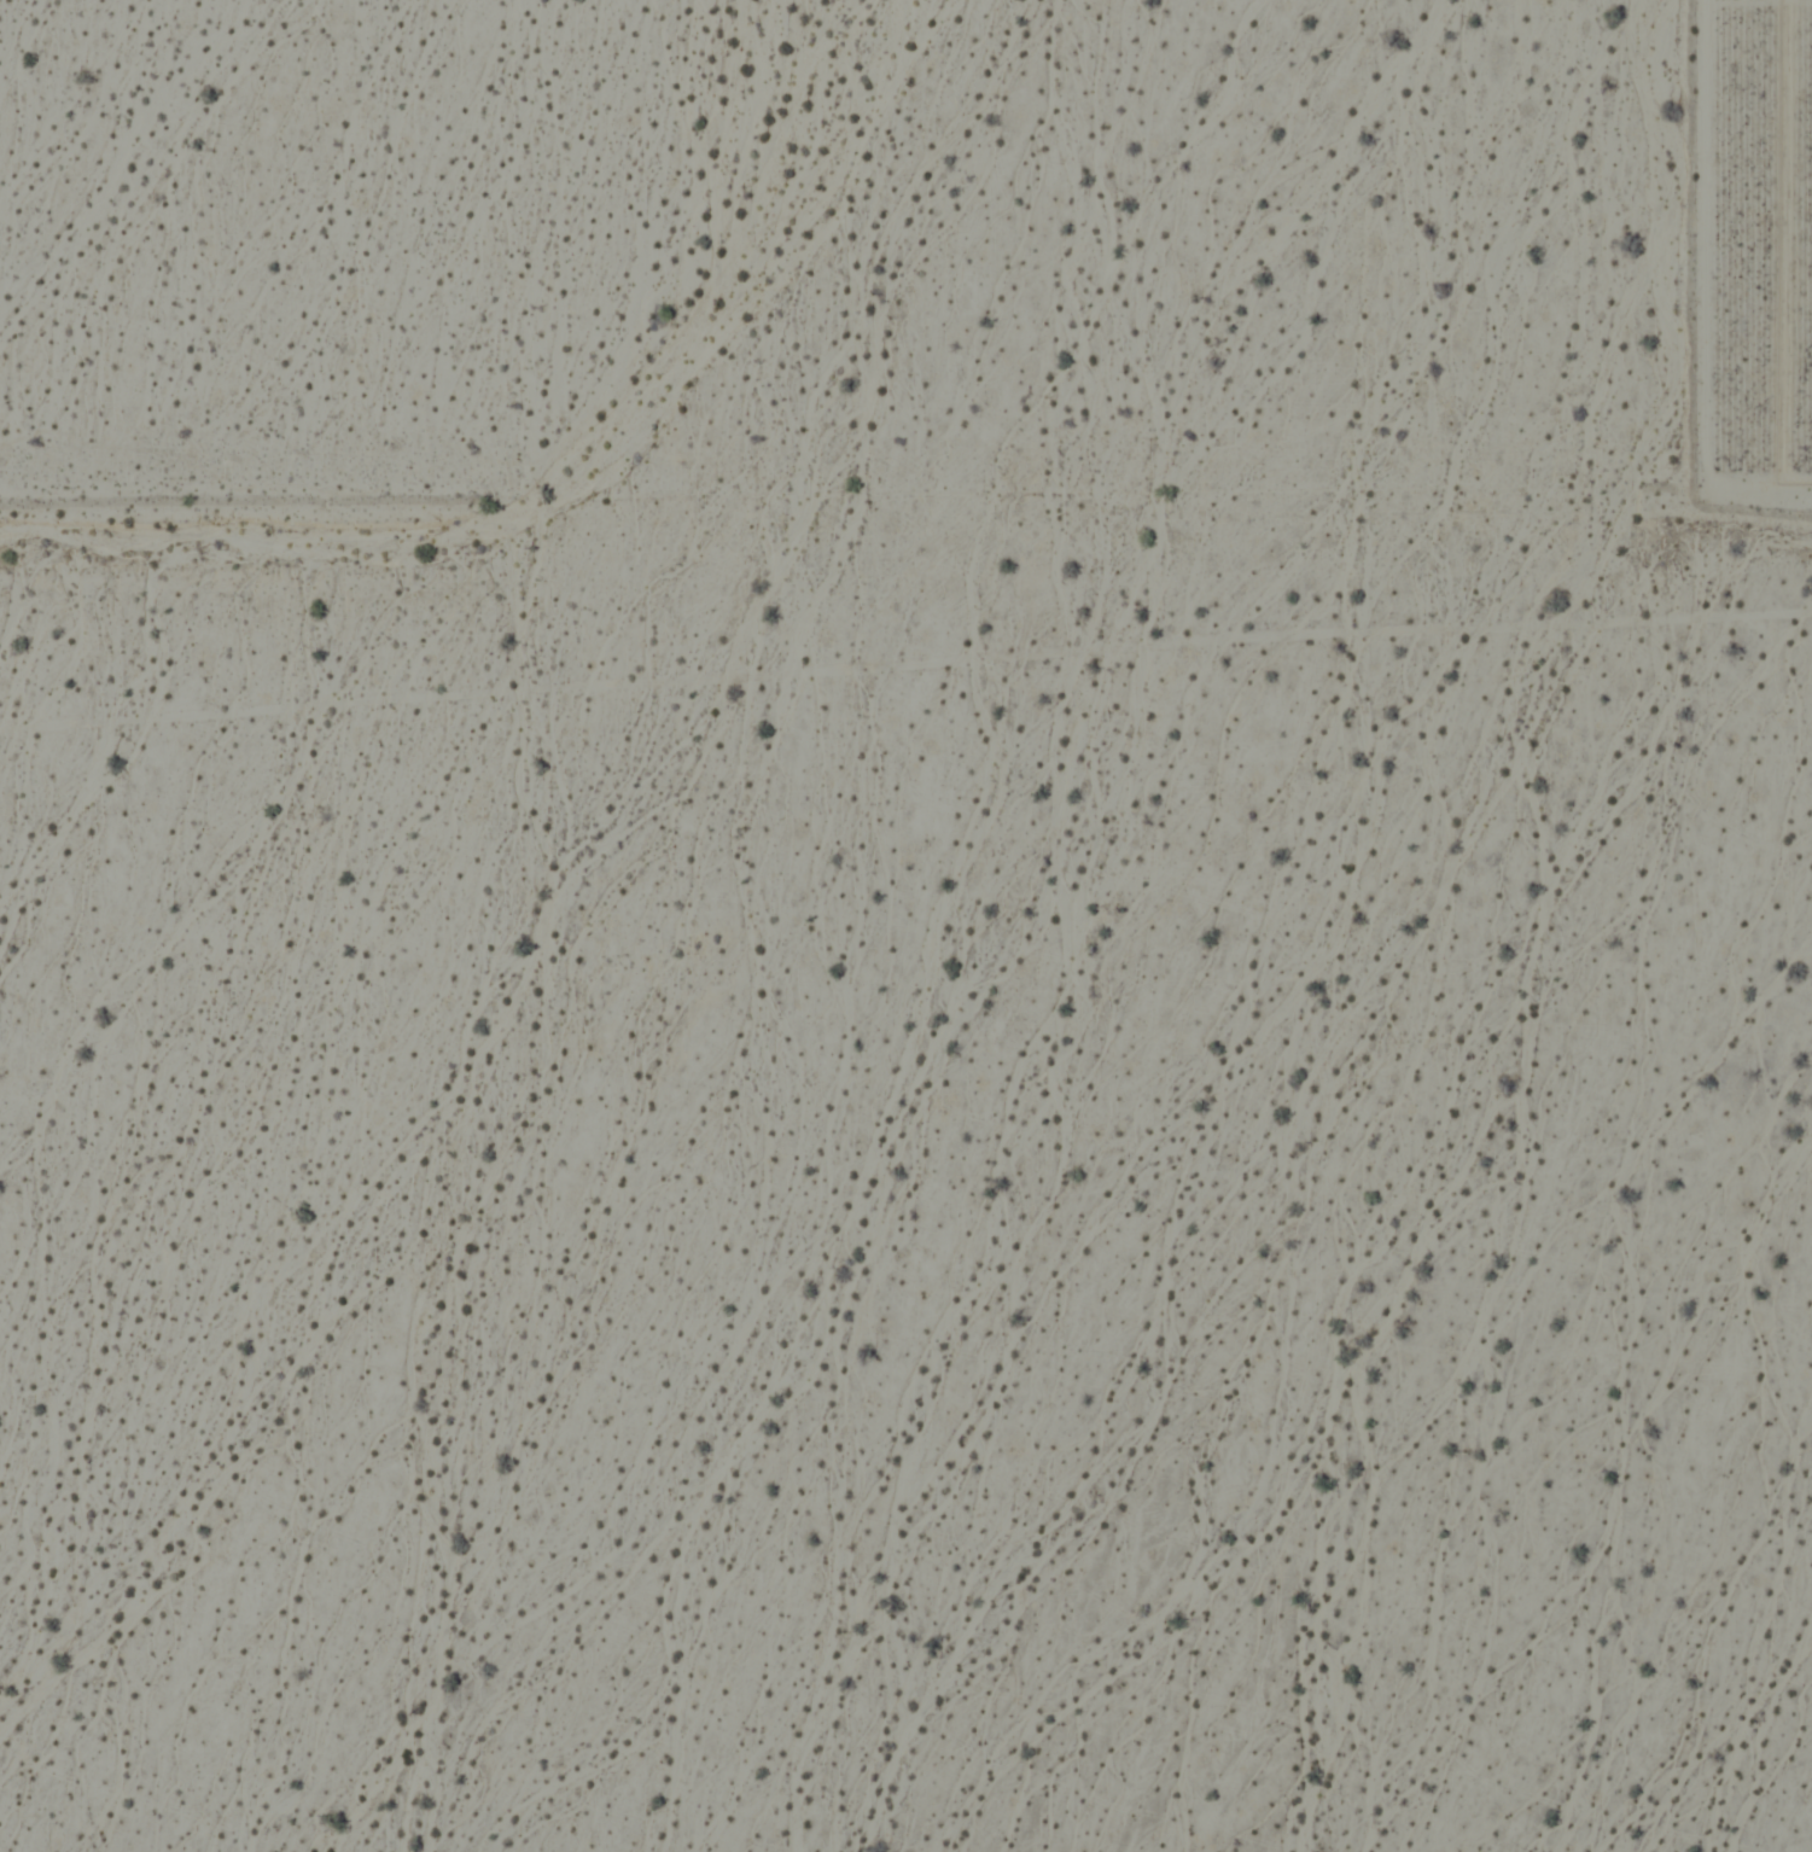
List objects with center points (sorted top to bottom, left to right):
crop: (1747, 245)

